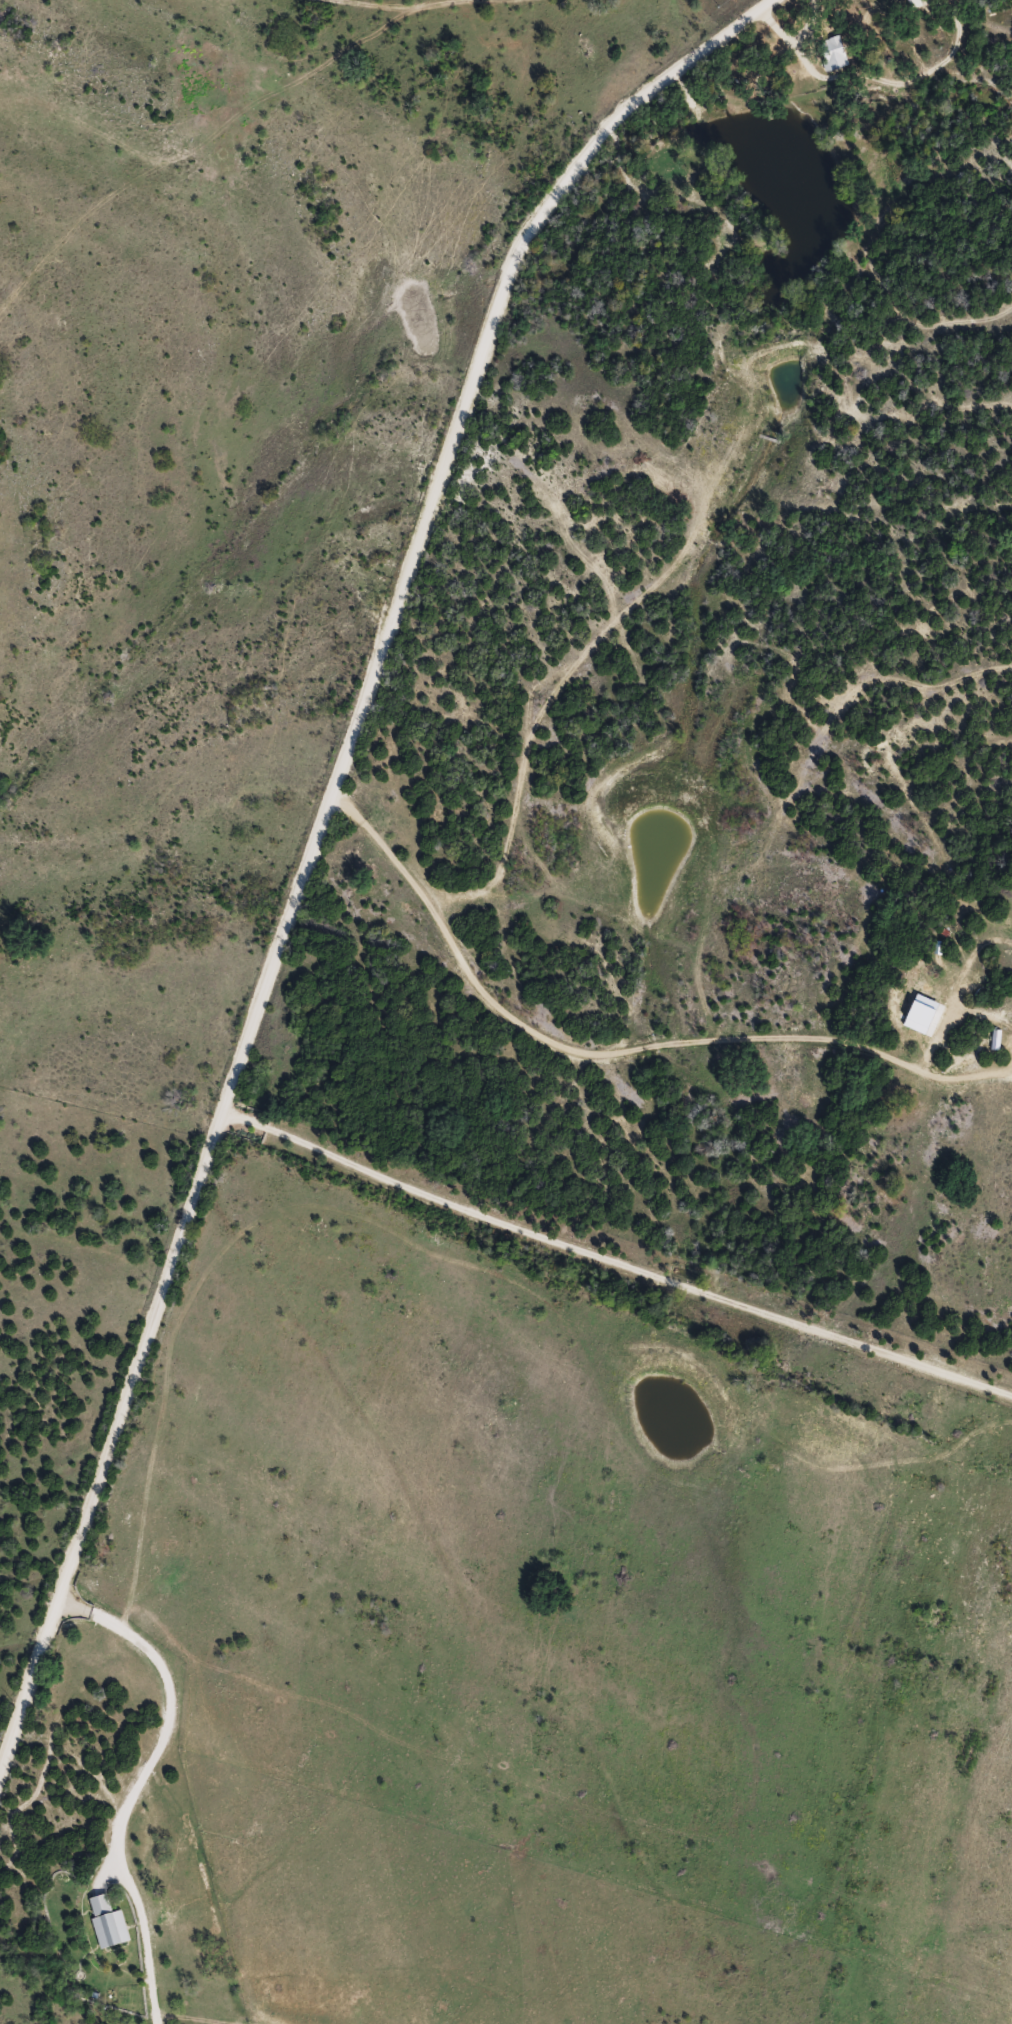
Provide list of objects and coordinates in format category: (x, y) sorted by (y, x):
building: (838, 53)
road: (325, 847)
building: (112, 1923)

